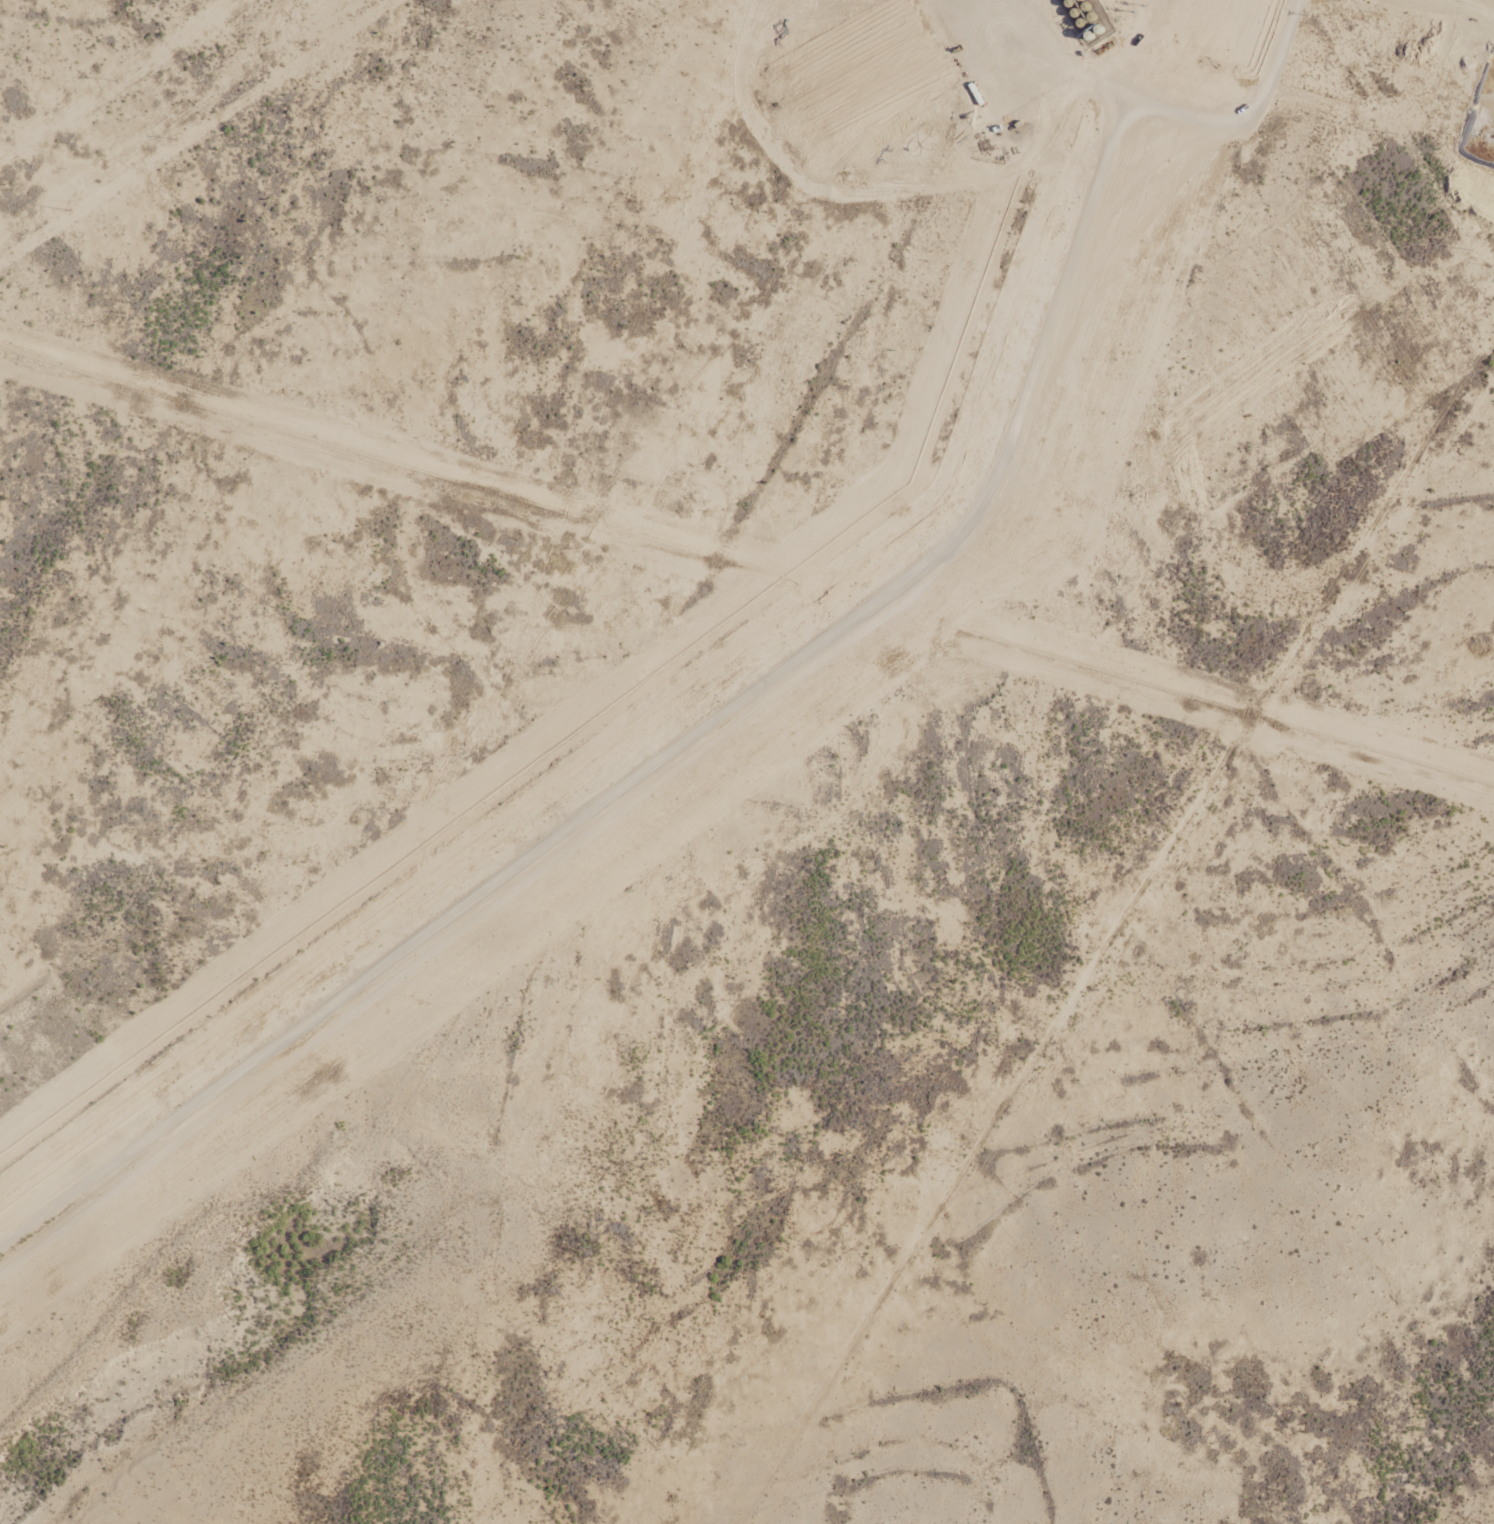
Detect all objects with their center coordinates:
road: (896, 582)

